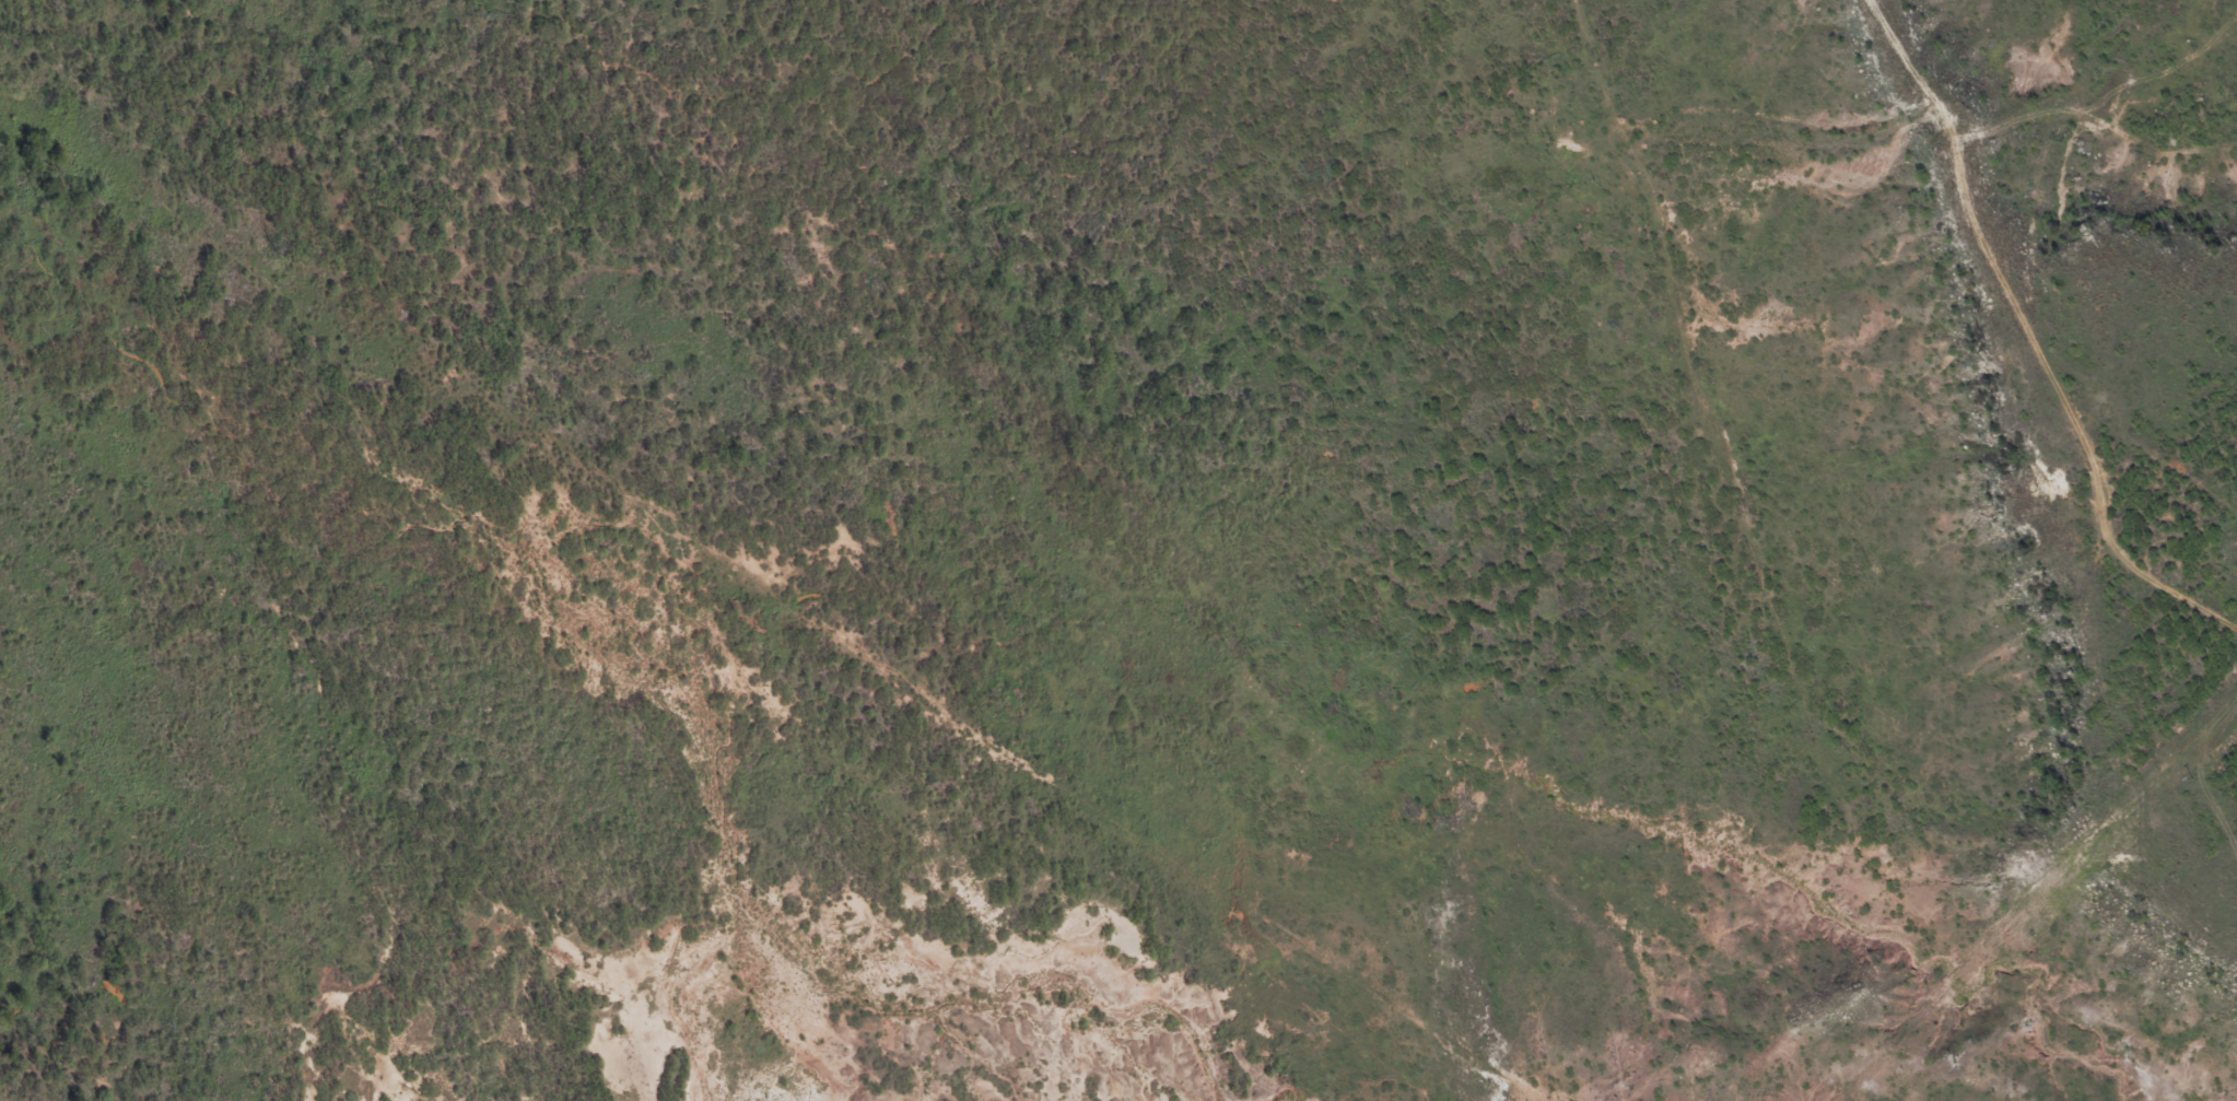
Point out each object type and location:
road: (2234, 122)
road: (1694, 127)
road: (2022, 352)
road: (1613, 492)

